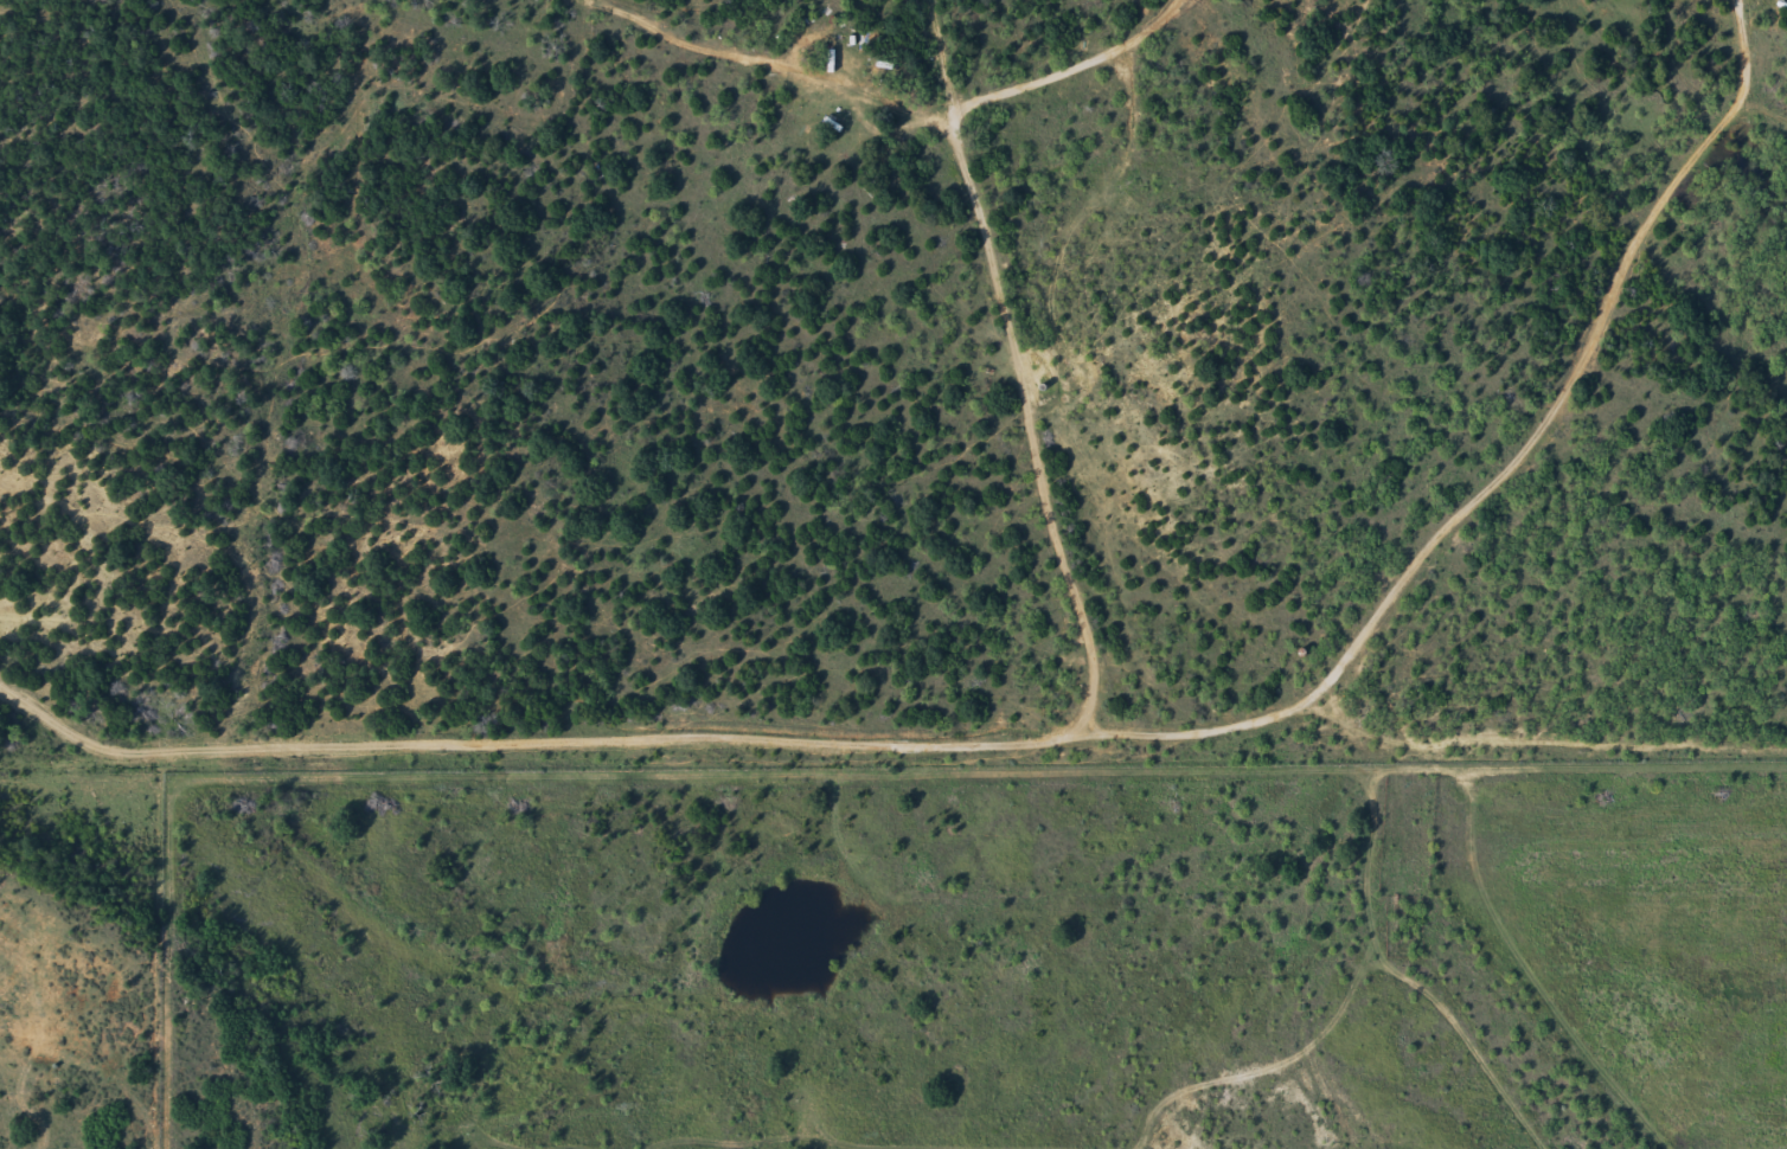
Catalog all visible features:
road: (1768, 122)
road: (1019, 372)
road: (1491, 423)
road: (873, 755)
road: (1334, 888)

